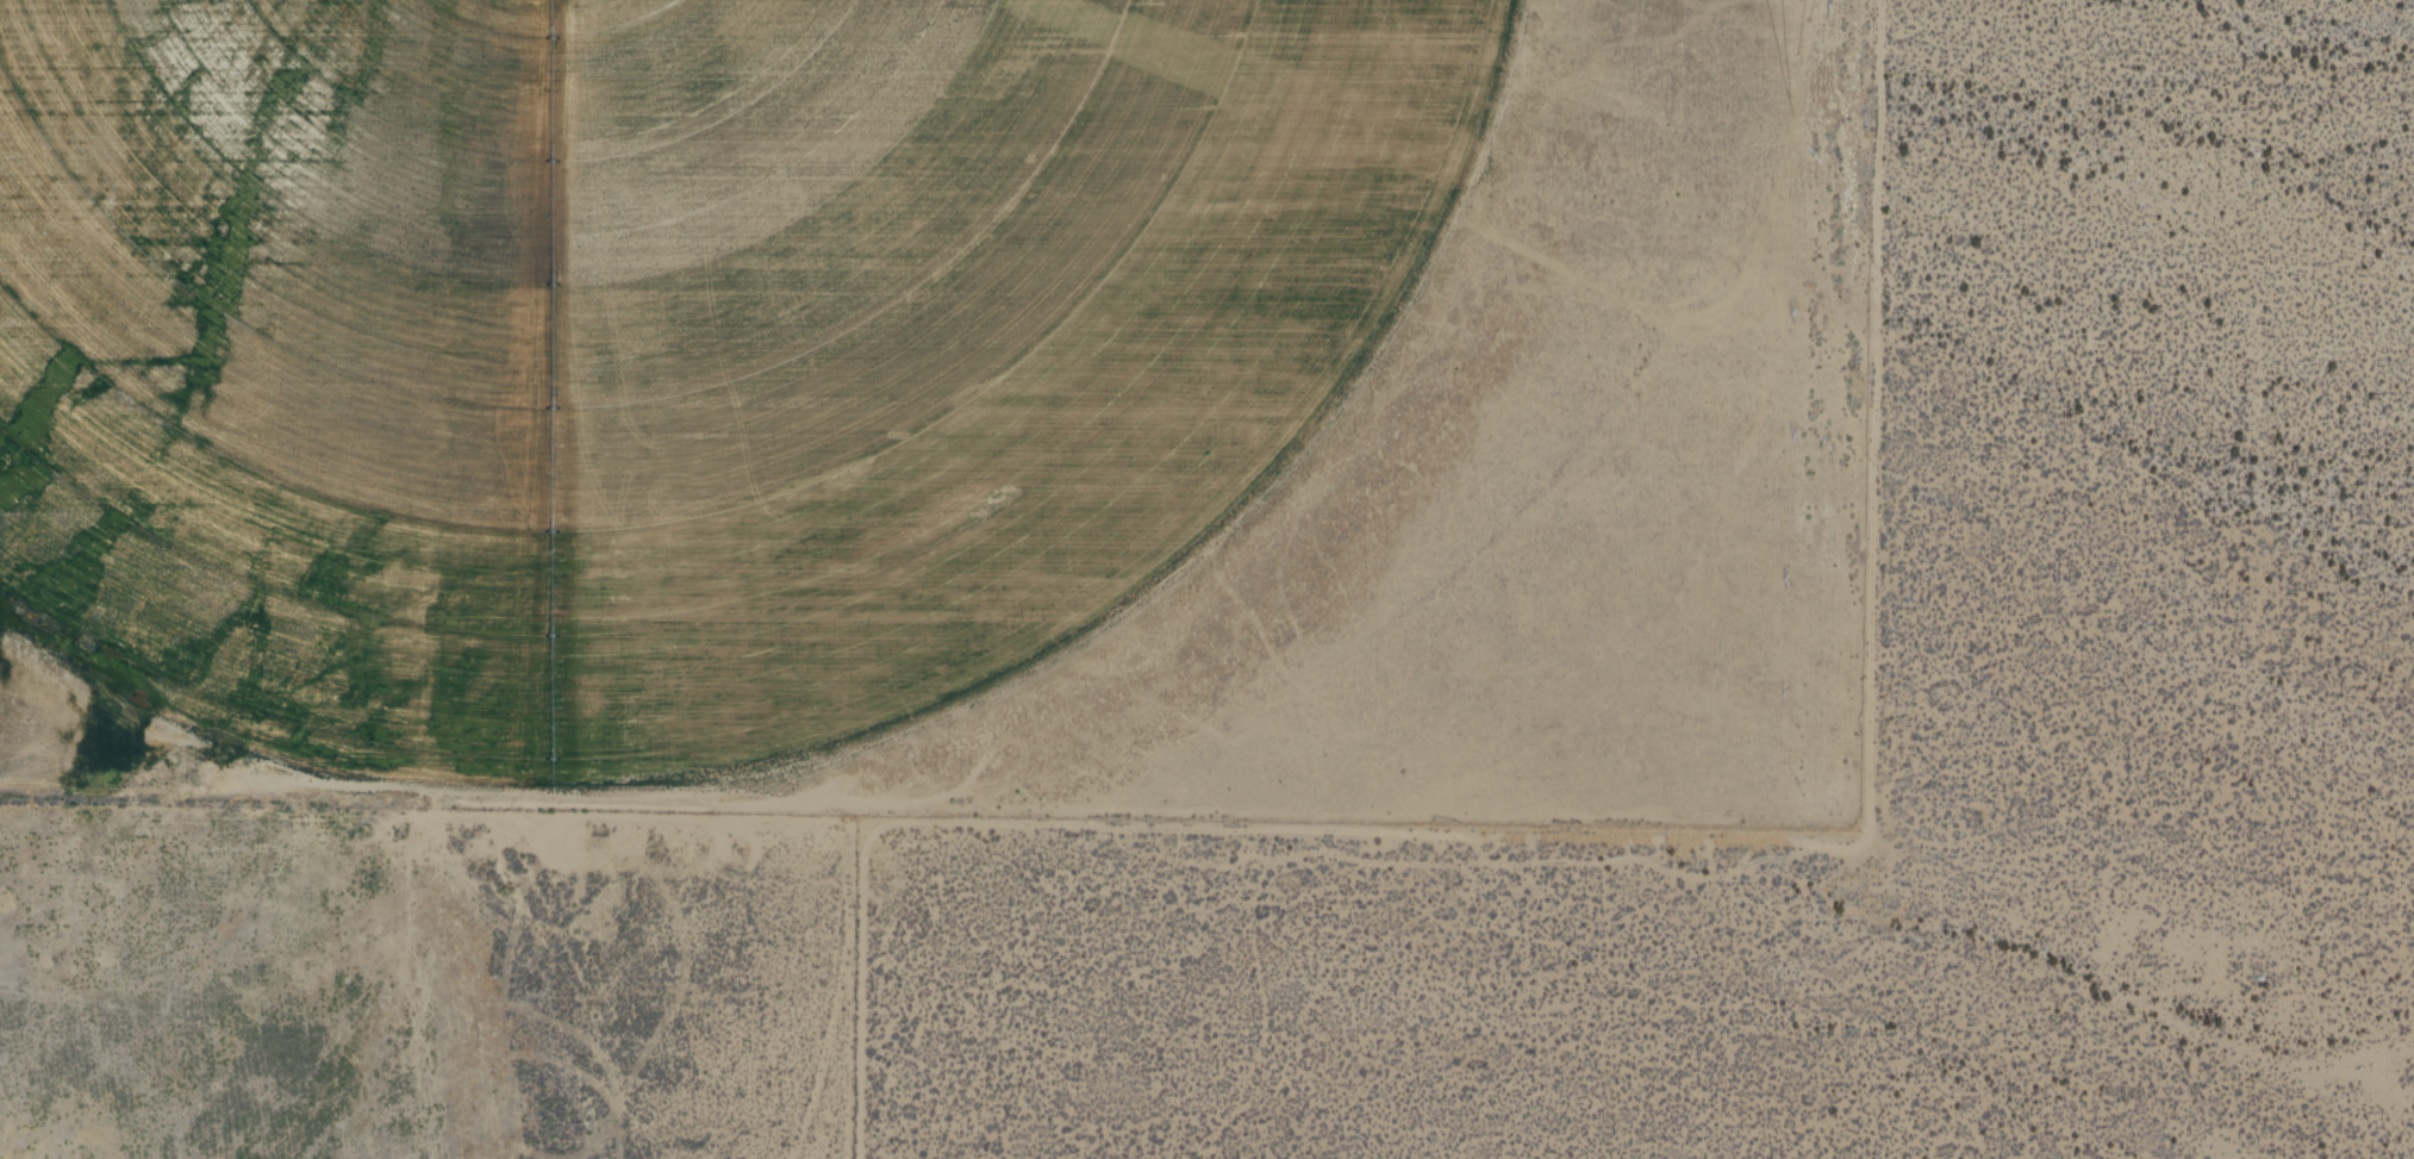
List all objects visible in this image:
crop: (809, 355)
road: (1105, 636)
road: (1719, 845)
road: (865, 992)

